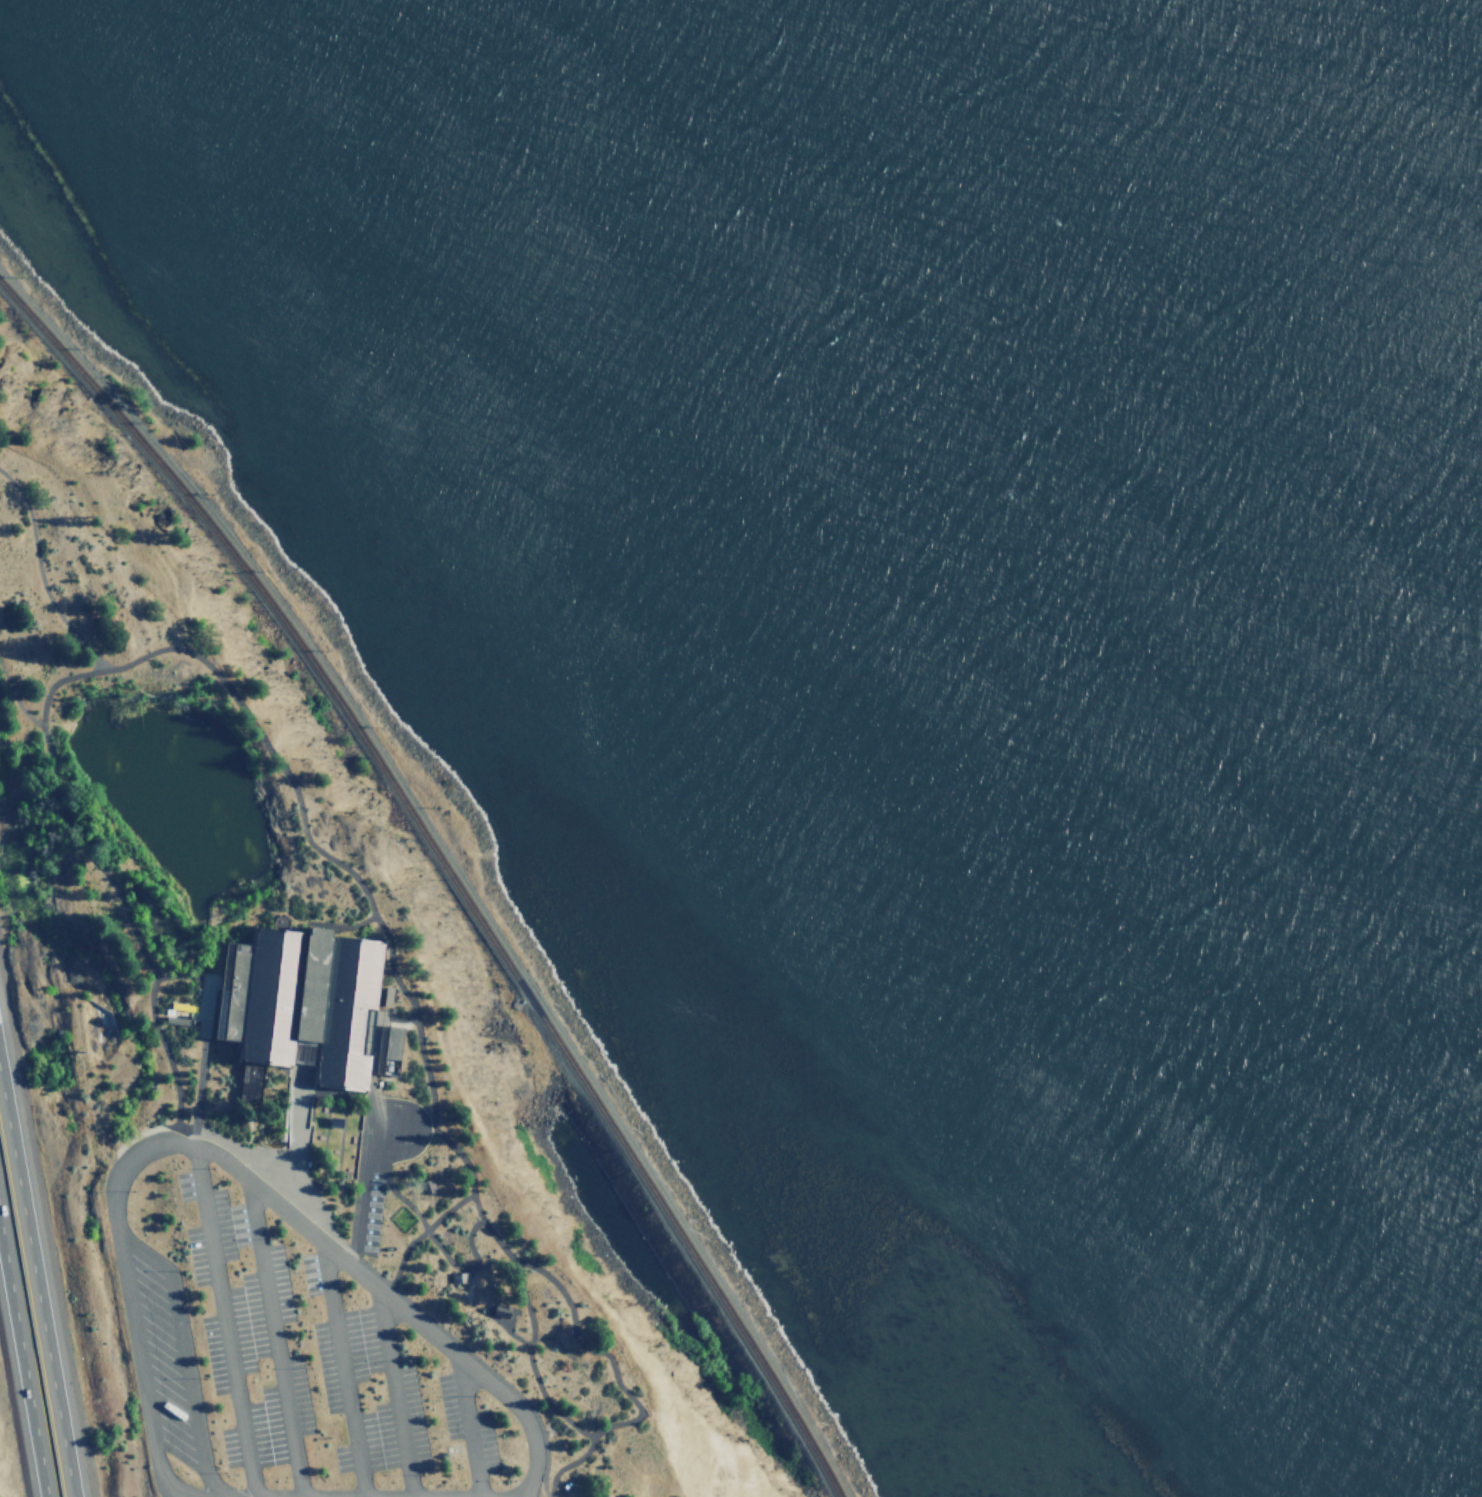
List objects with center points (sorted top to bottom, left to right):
river: (1207, 366)
road: (41, 575)
road: (15, 699)
road: (238, 703)
railway: (451, 867)
road: (355, 925)
road: (191, 976)
building: (305, 1002)
road: (392, 1016)
road: (410, 1130)
road: (297, 1140)
road: (230, 1165)
road: (361, 1194)
road: (430, 1233)
building: (459, 1277)
road: (33, 1290)
building: (500, 1310)
road: (224, 1322)
road: (545, 1337)
road: (275, 1339)
parking lot: (294, 1339)
road: (596, 1352)
road: (184, 1357)
road: (530, 1358)
road: (21, 1367)
road: (344, 1370)
road: (396, 1394)
road: (470, 1427)
road: (542, 1482)

